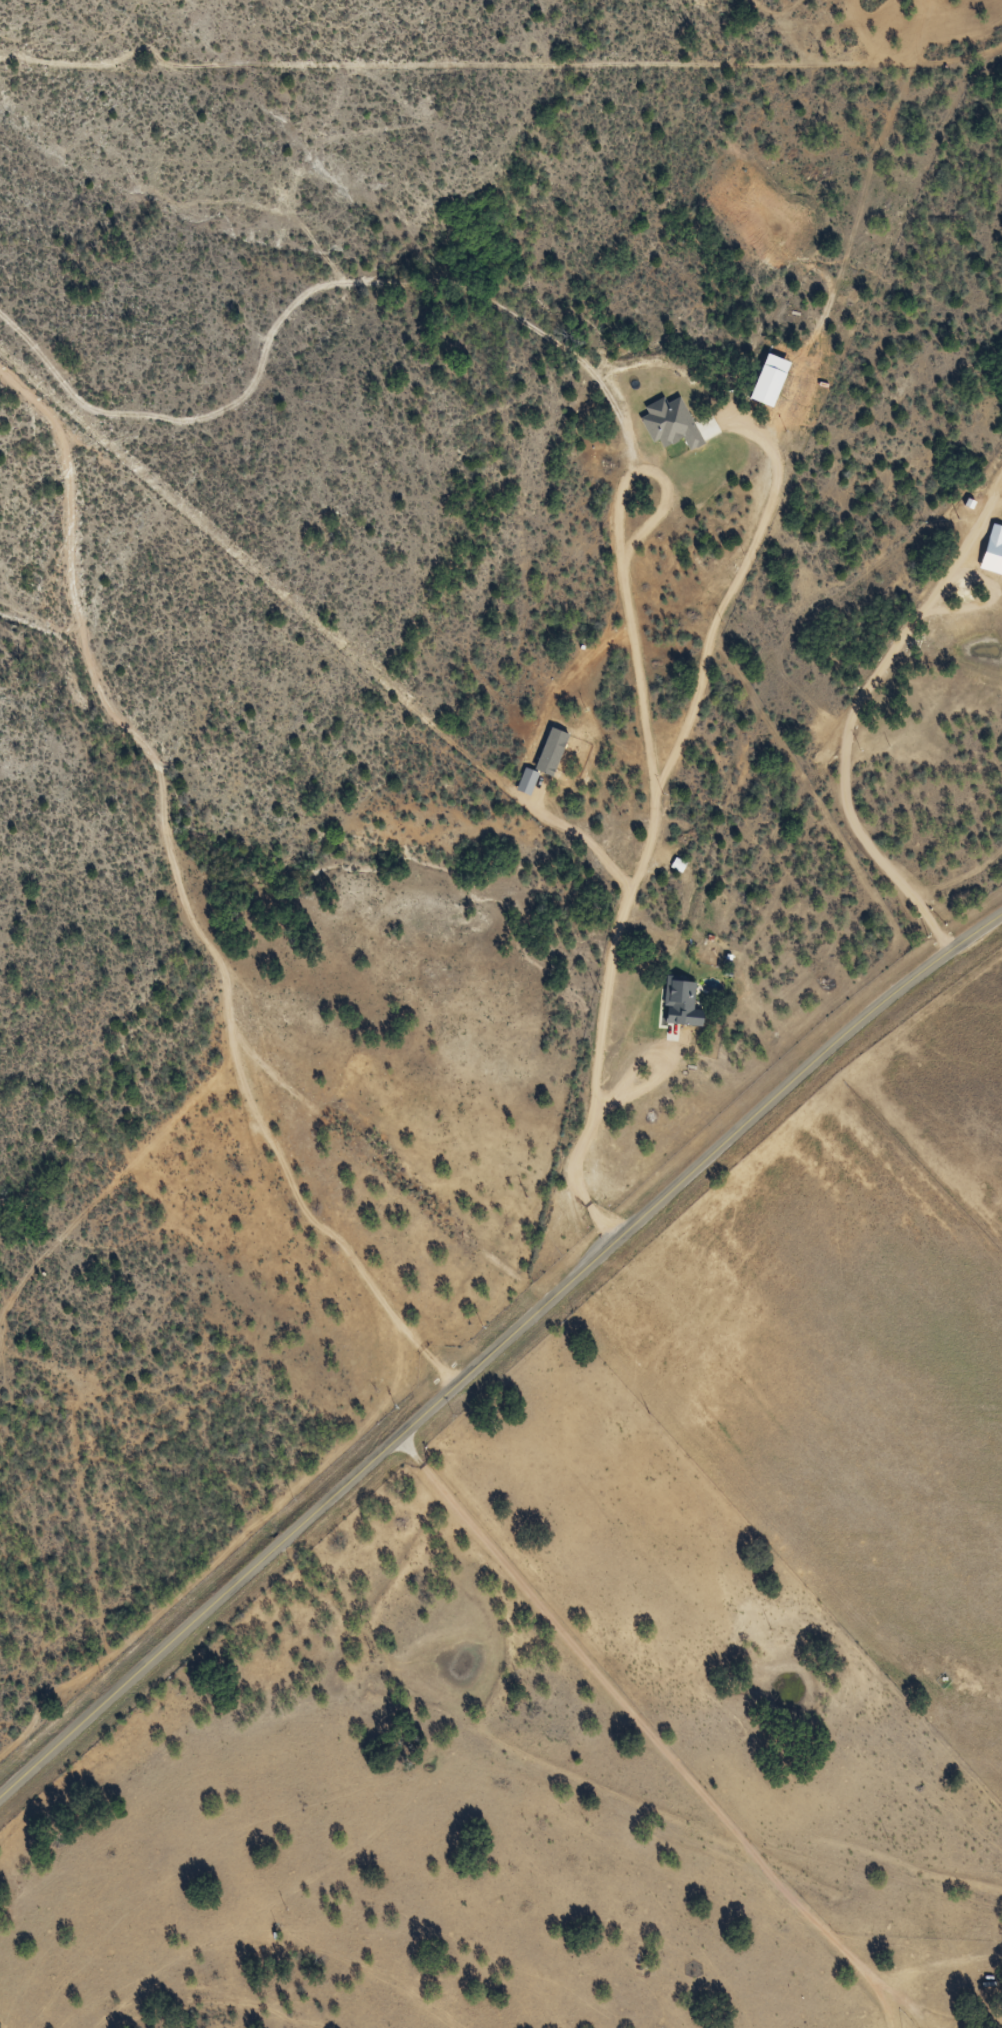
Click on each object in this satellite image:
road: (758, 881)
building: (692, 1005)
road: (494, 1350)
road: (668, 1723)
park: (1, 2024)

